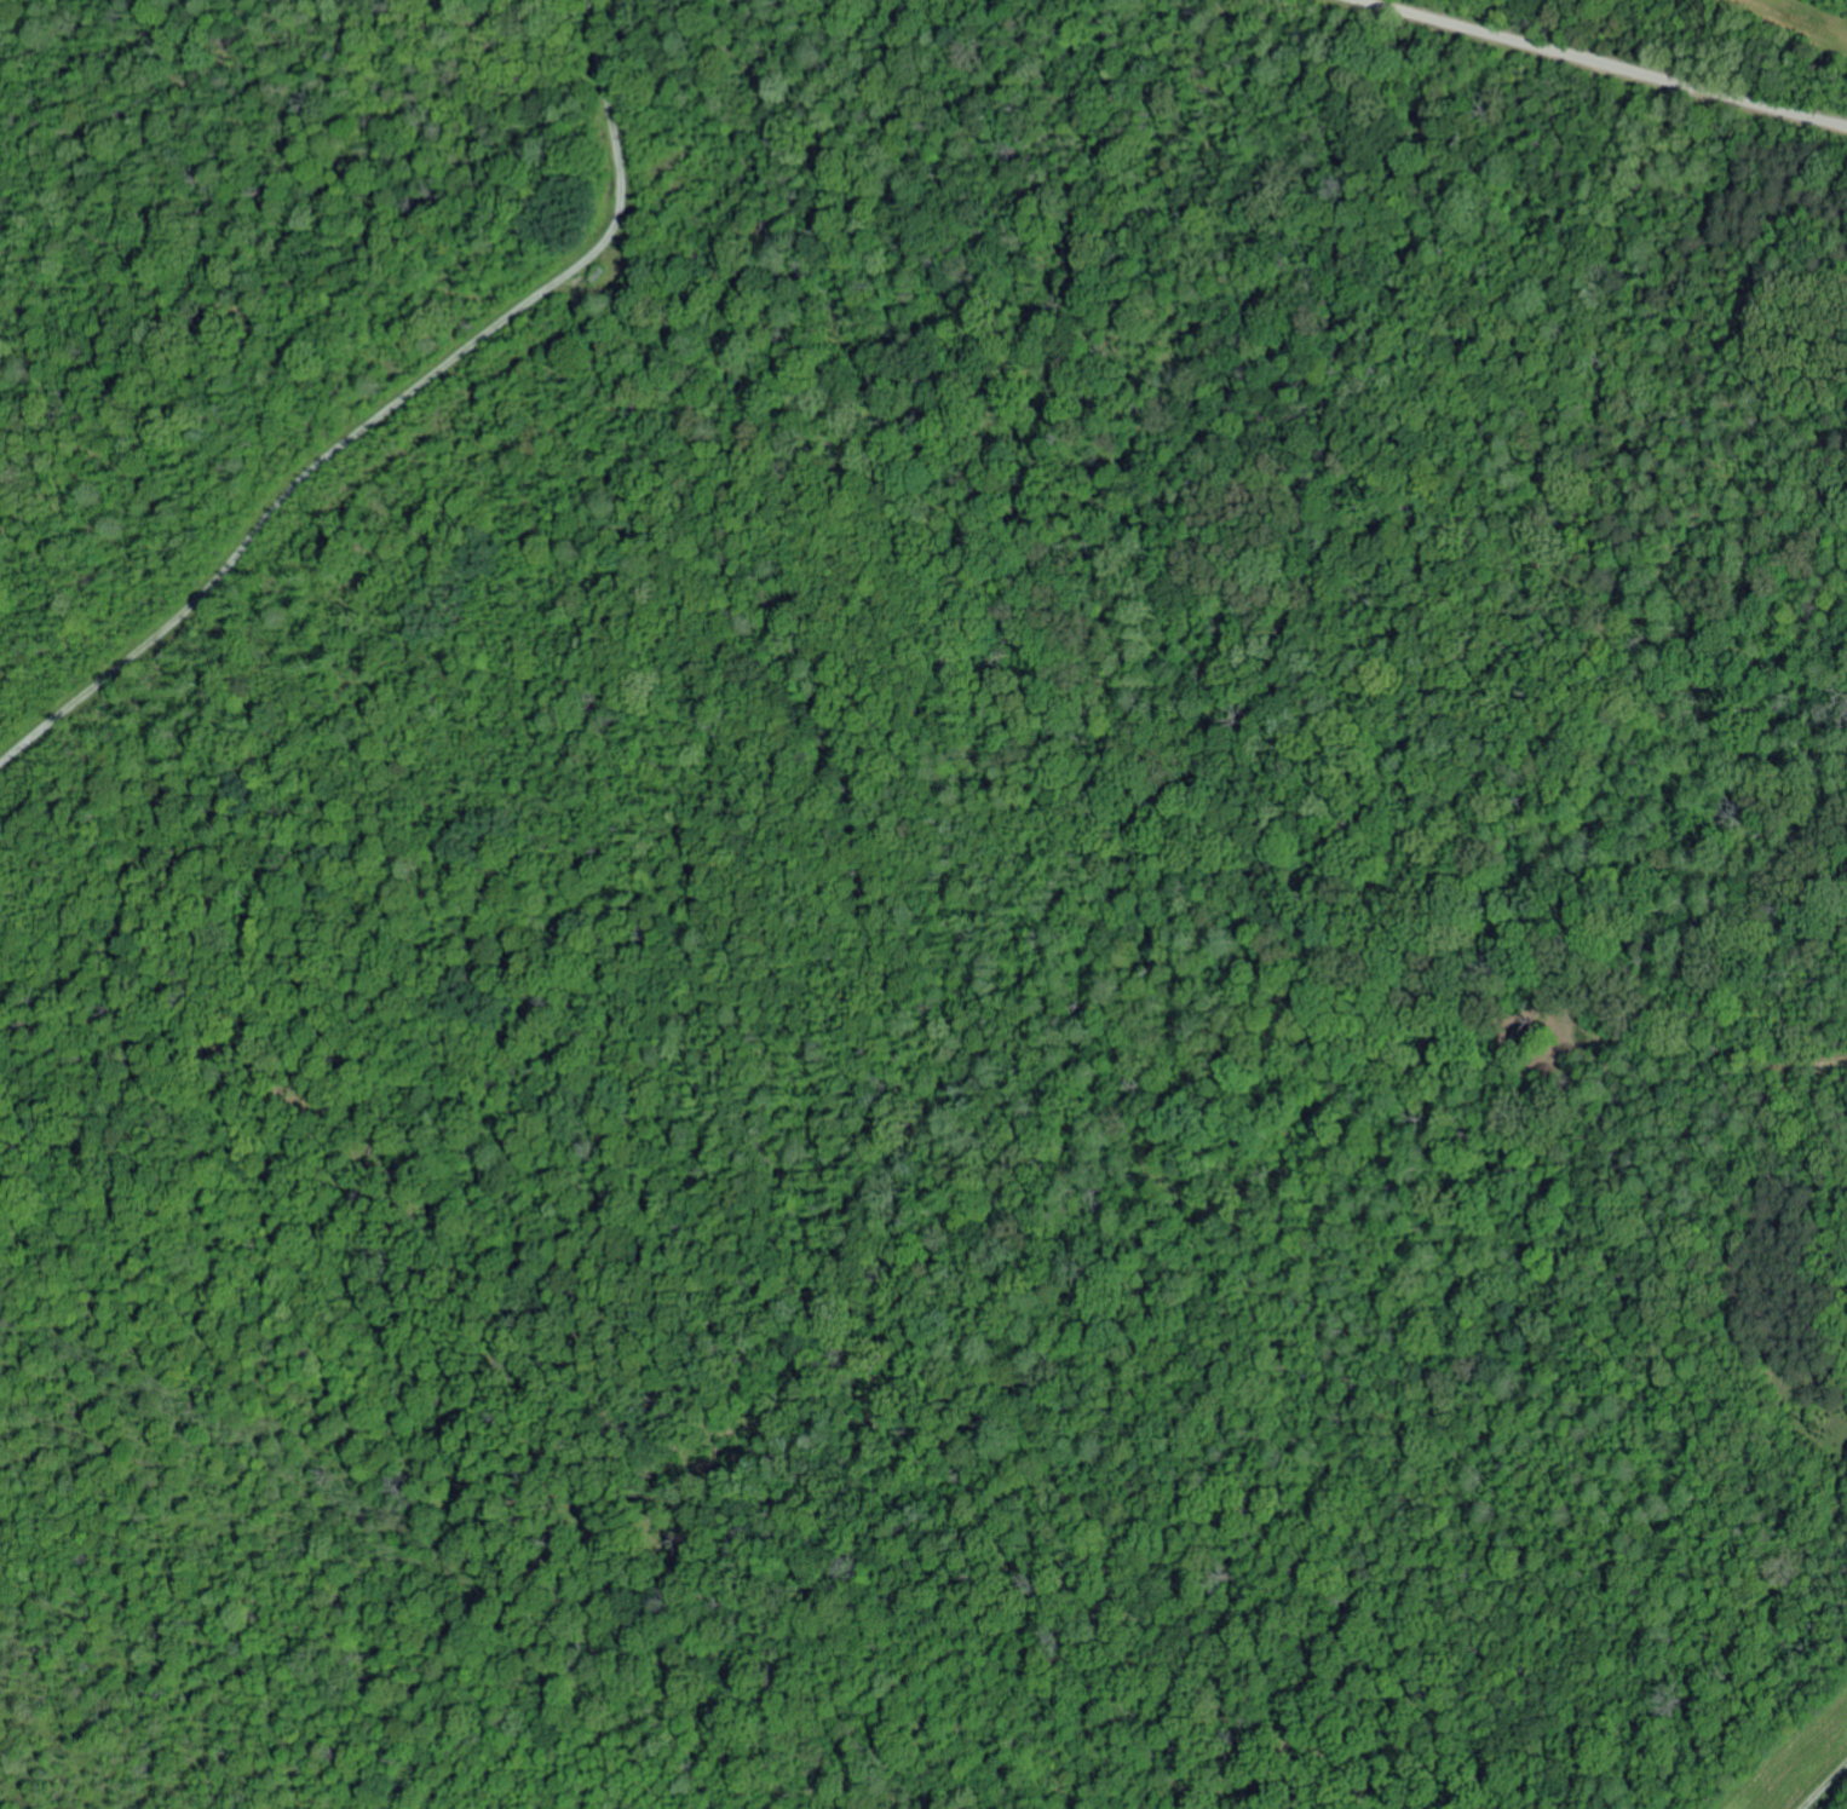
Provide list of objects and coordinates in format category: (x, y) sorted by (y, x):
road: (1609, 61)

